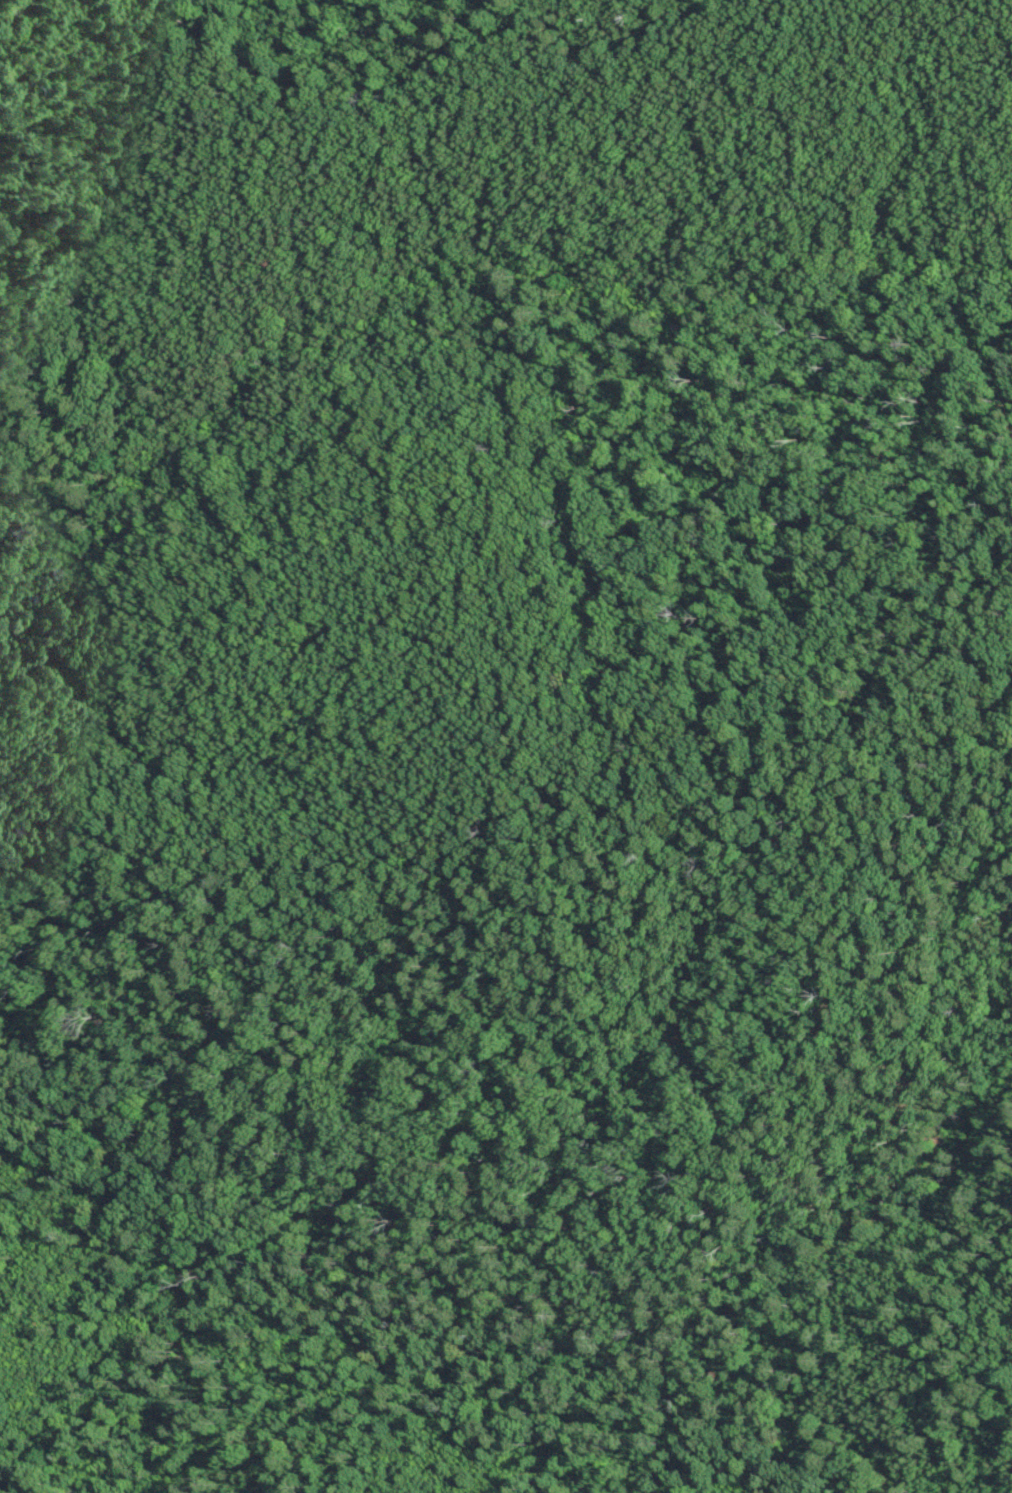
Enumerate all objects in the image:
road: (399, 48)

